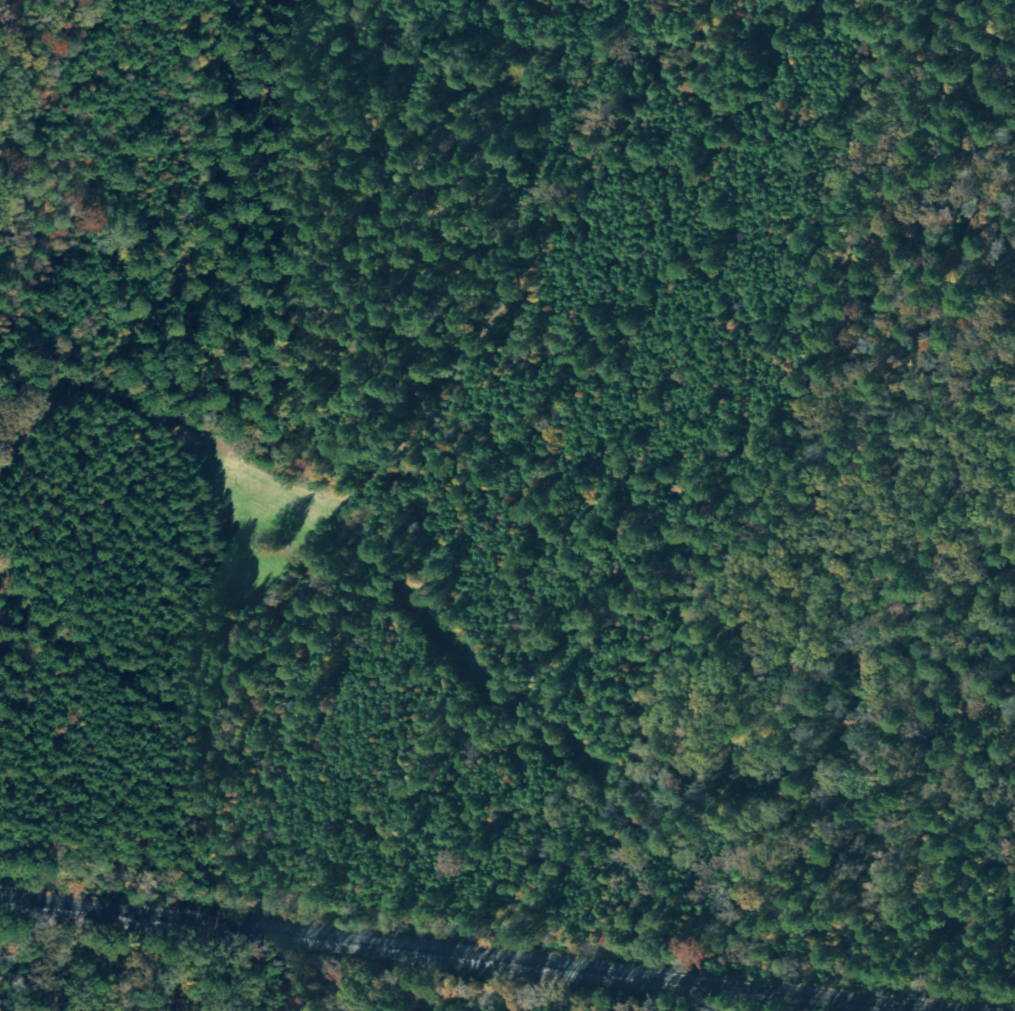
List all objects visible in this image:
railway: (463, 956)

